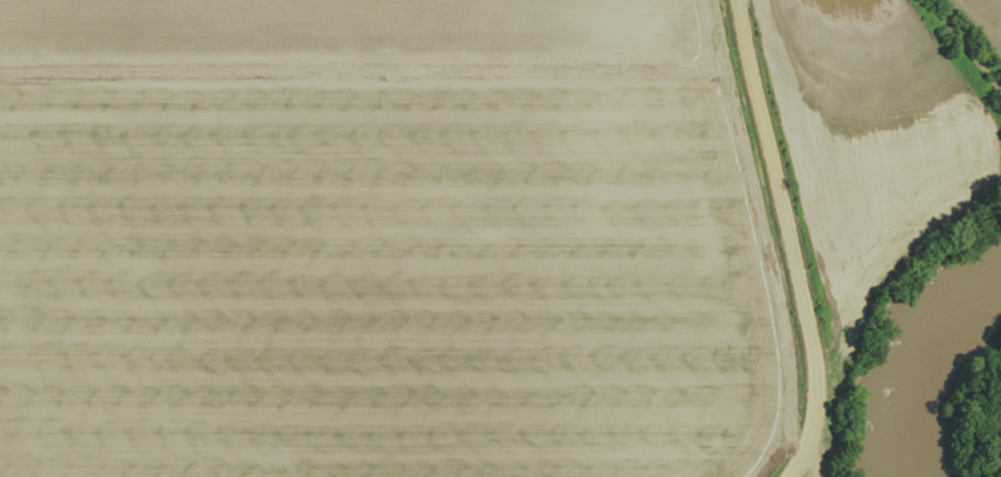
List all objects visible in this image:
road: (784, 236)
river: (927, 364)

